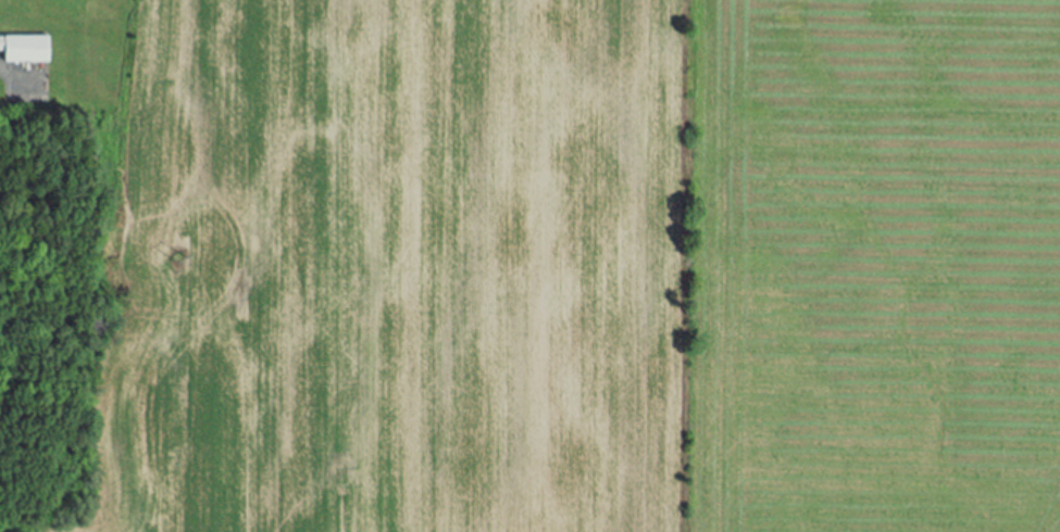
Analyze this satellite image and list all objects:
building: (29, 51)
road: (5, 78)
power tower: (177, 258)

